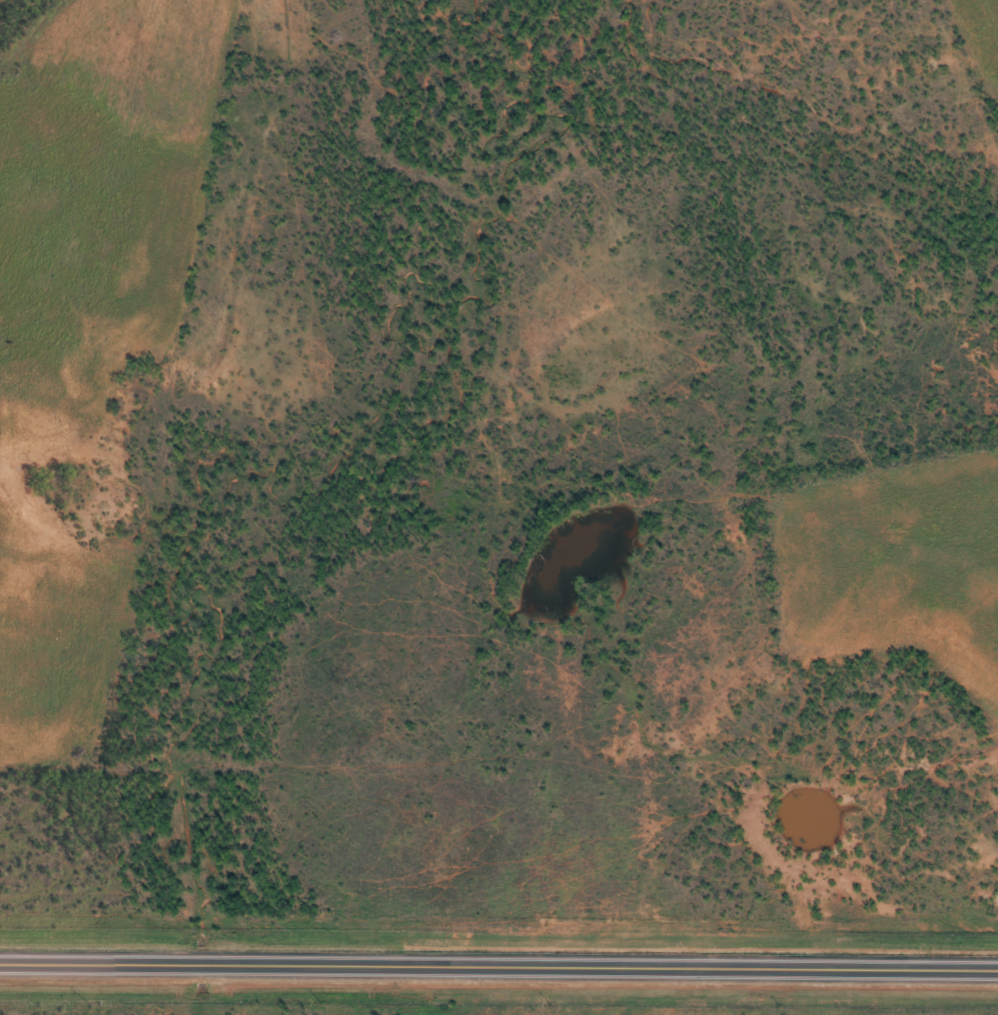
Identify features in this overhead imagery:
road: (499, 971)

